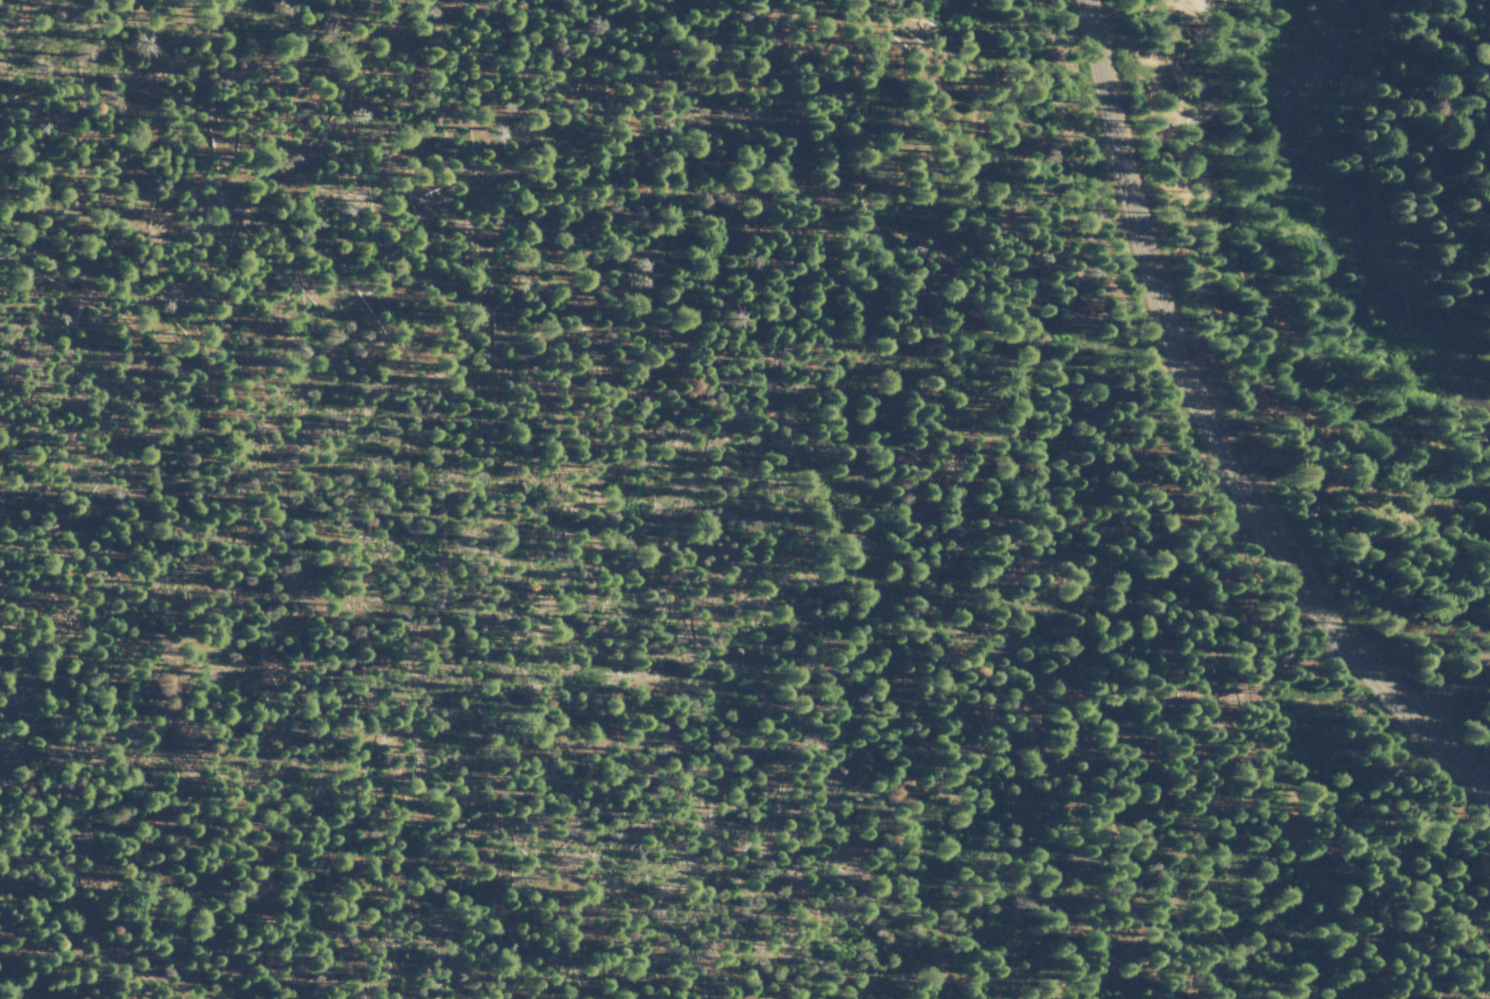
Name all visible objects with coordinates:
road: (1205, 439)
road: (1448, 690)

